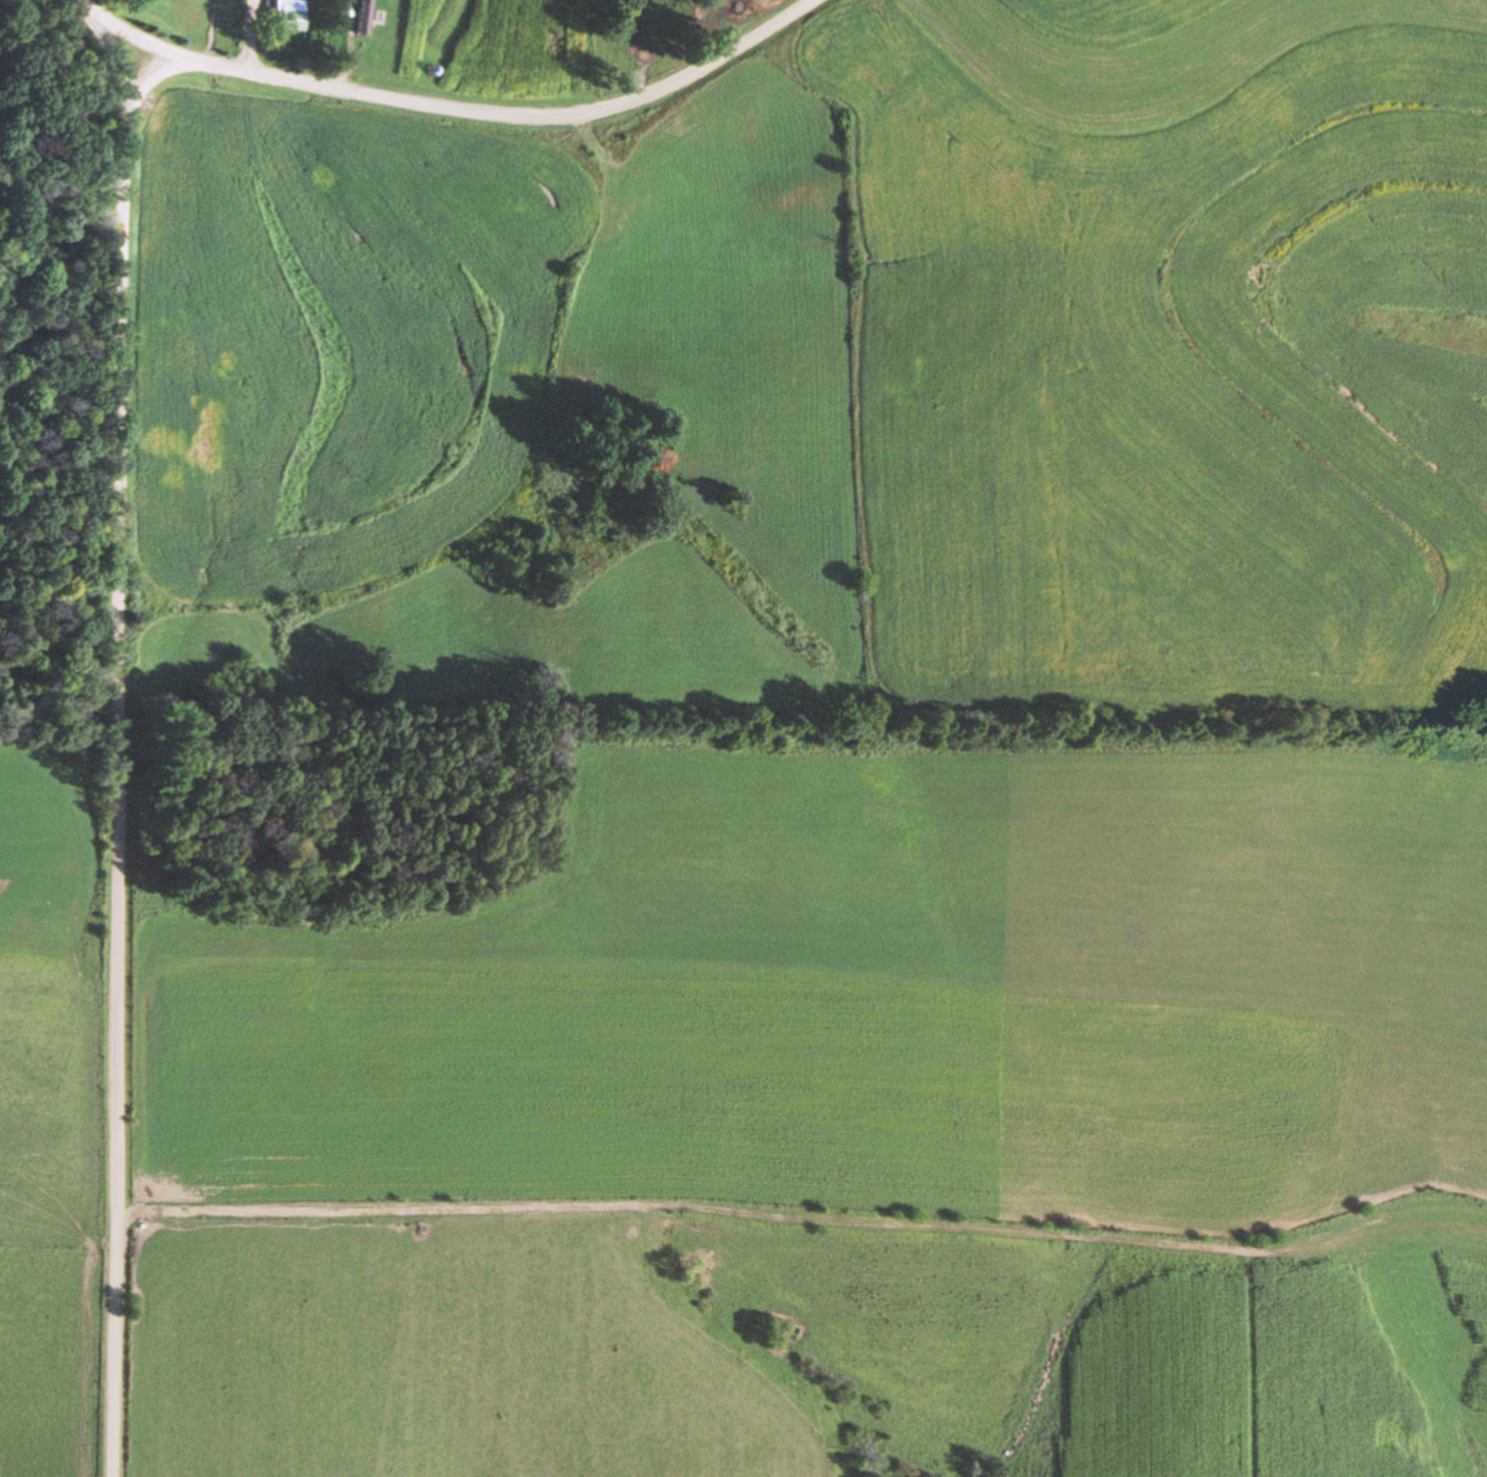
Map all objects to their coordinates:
building: (359, 18)
building: (284, 19)
road: (121, 32)
road: (464, 104)
road: (115, 744)

